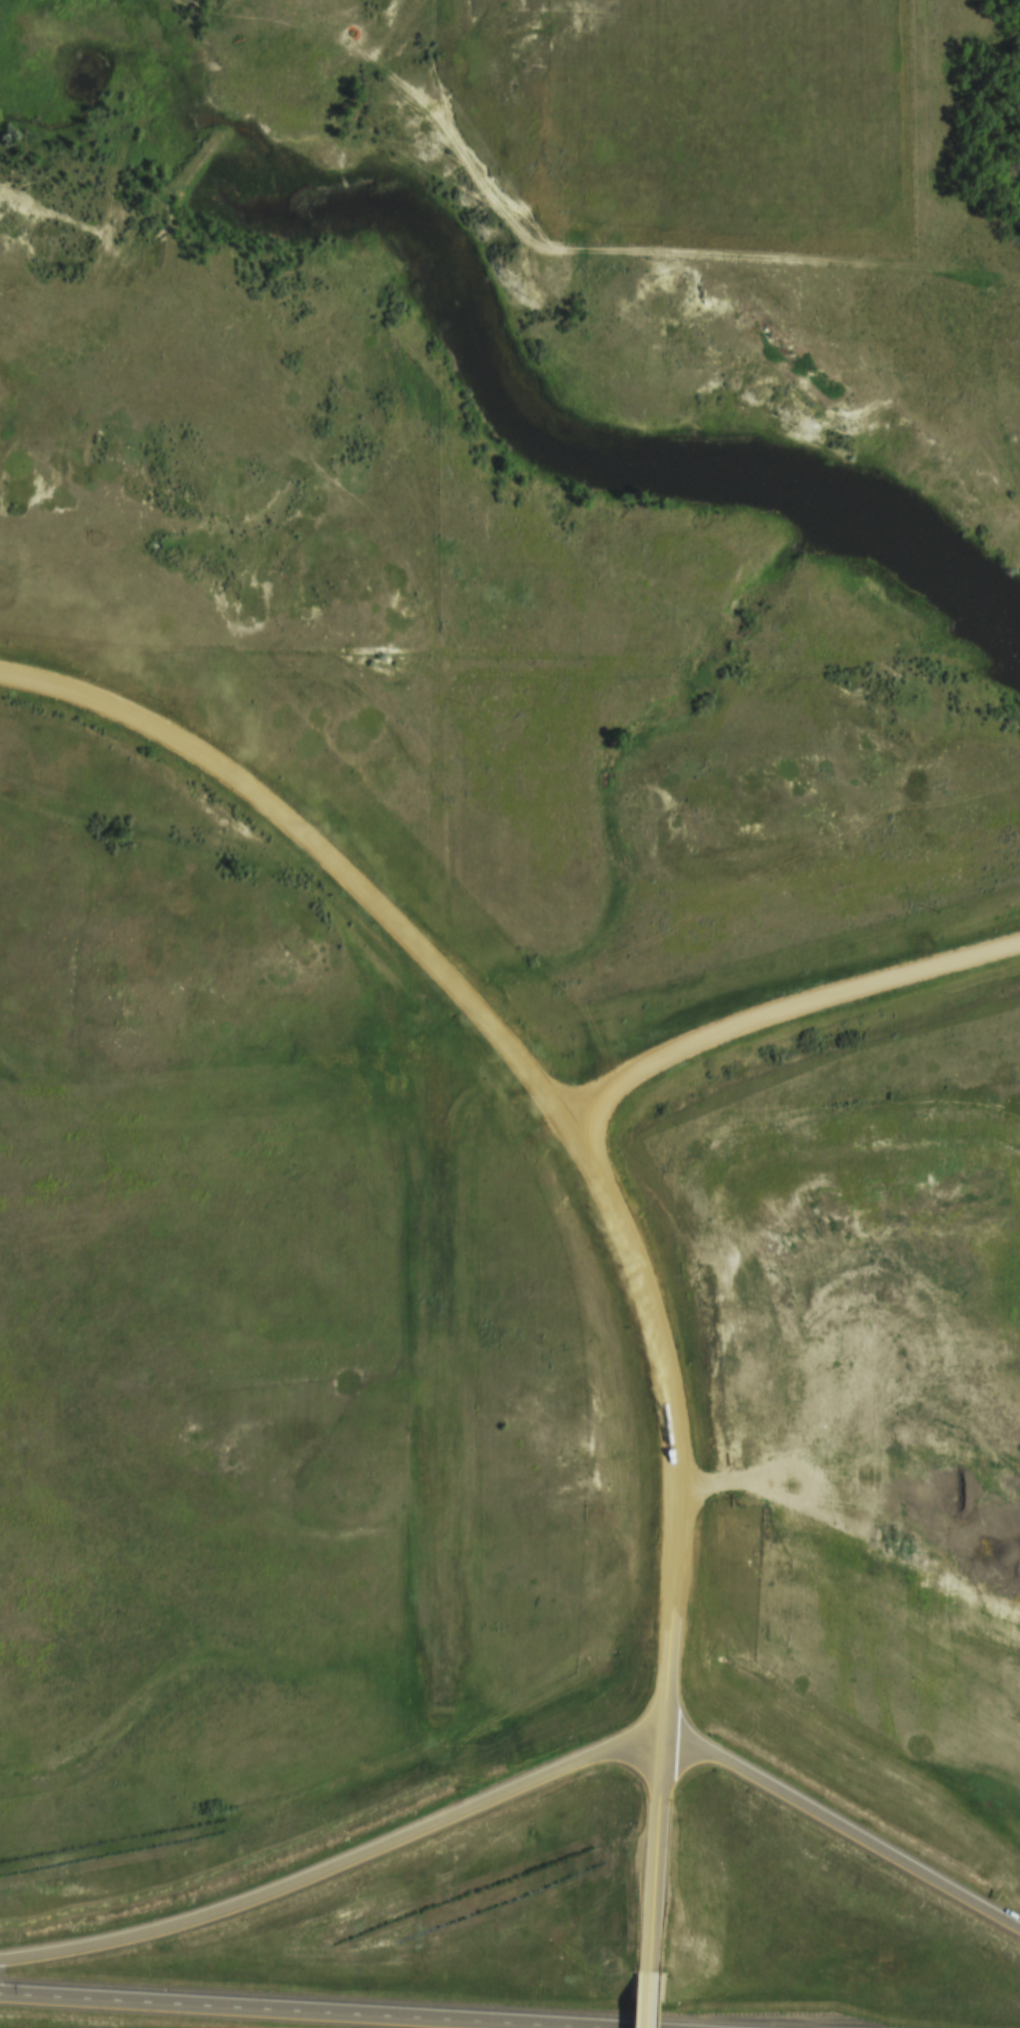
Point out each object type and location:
road: (322, 857)
road: (785, 1018)
road: (664, 1361)
road: (849, 1491)
road: (524, 1790)
road: (660, 1802)
road: (651, 2011)
road: (262, 2013)

